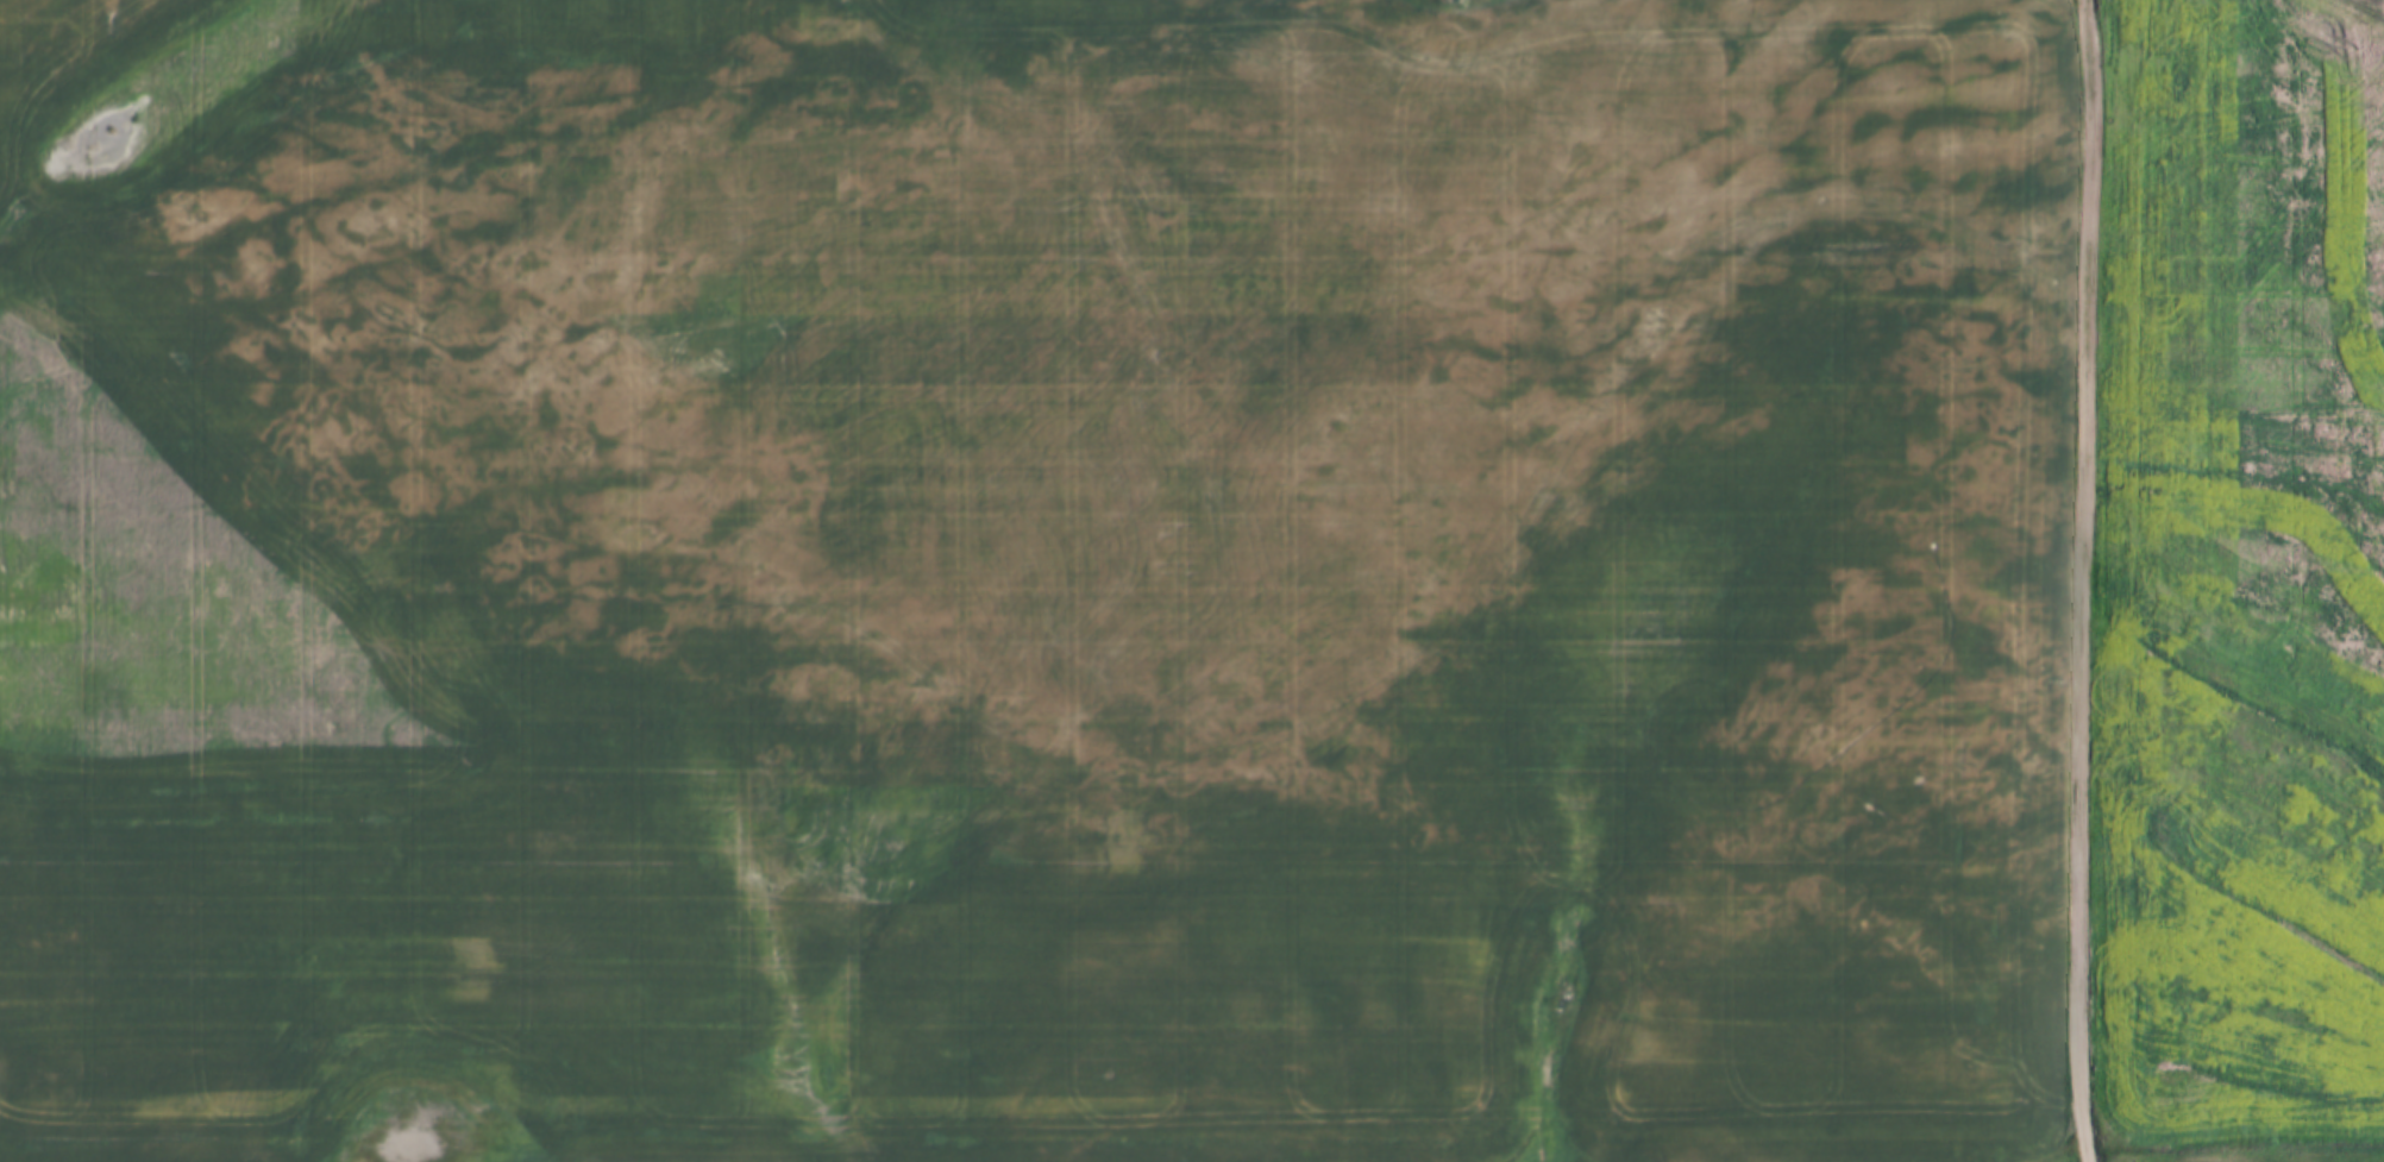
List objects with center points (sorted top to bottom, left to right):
road: (2085, 580)

